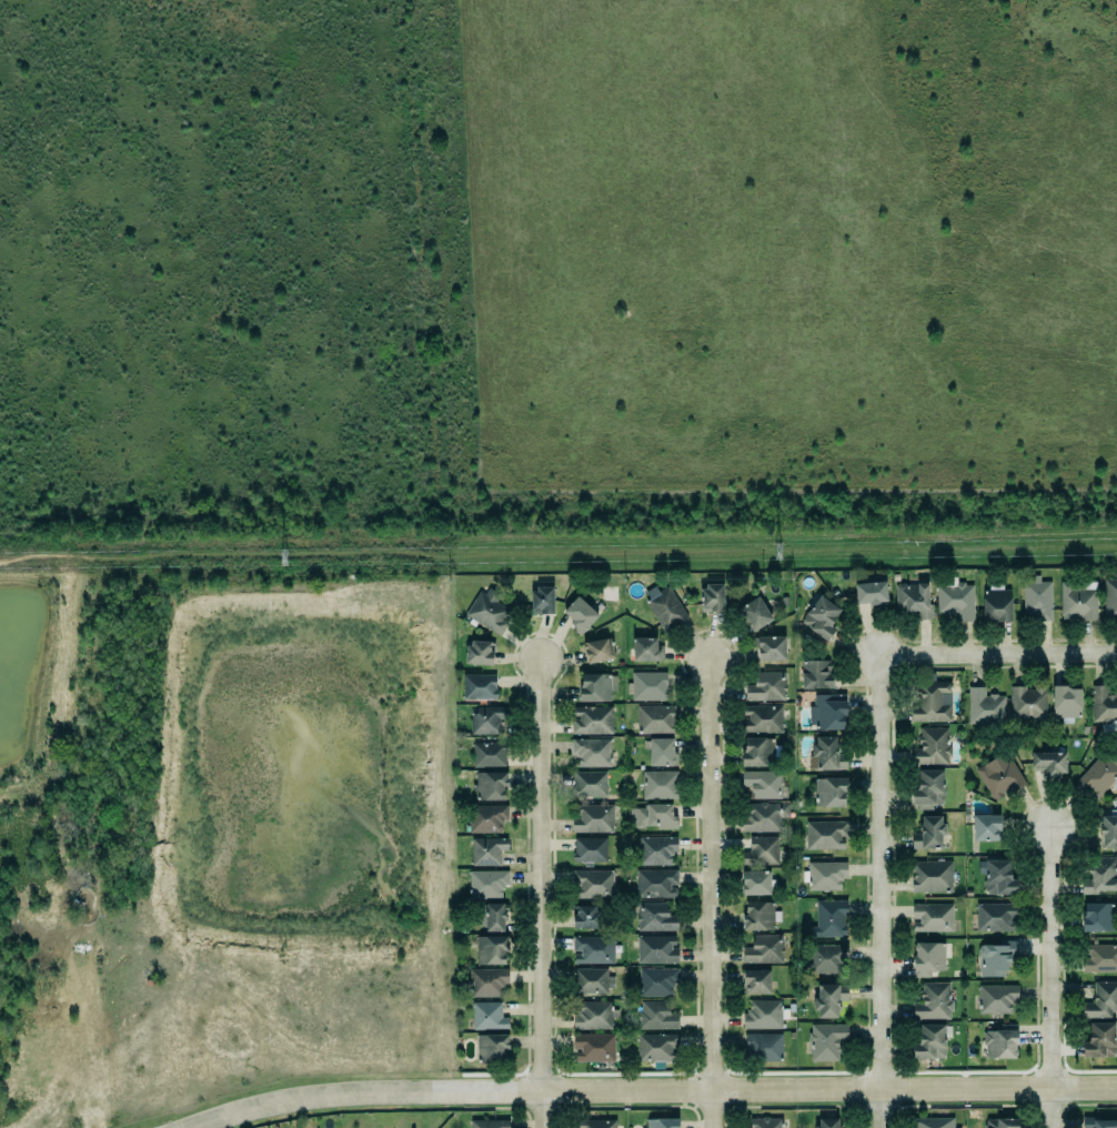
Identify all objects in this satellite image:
power tower: (777, 550)
power tower: (282, 563)
building: (871, 593)
building: (708, 597)
building: (912, 598)
building: (1035, 598)
building: (1110, 600)
building: (542, 601)
building: (956, 601)
building: (1078, 601)
building: (996, 605)
building: (664, 606)
building: (485, 611)
building: (577, 613)
building: (755, 614)
building: (818, 616)
building: (767, 646)
building: (596, 648)
building: (644, 648)
building: (477, 652)
road: (997, 653)
building: (816, 674)
building: (646, 685)
building: (594, 686)
building: (479, 687)
building: (766, 687)
building: (932, 702)
building: (1026, 702)
building: (1066, 702)
building: (1104, 705)
building: (983, 706)
building: (826, 712)
building: (759, 718)
building: (487, 719)
building: (655, 719)
building: (592, 721)
building: (932, 746)
building: (658, 751)
building: (755, 751)
building: (592, 752)
building: (486, 754)
building: (823, 754)
building: (1049, 764)
building: (1096, 775)
building: (999, 776)
building: (761, 783)
building: (590, 784)
building: (489, 785)
building: (660, 785)
building: (827, 790)
building: (928, 790)
building: (651, 816)
building: (764, 816)
building: (484, 817)
building: (591, 817)
building: (984, 826)
building: (1107, 832)
building: (823, 834)
building: (928, 834)
building: (485, 849)
building: (587, 849)
building: (656, 850)
building: (759, 850)
building: (929, 875)
building: (826, 876)
building: (1099, 876)
building: (997, 877)
building: (591, 883)
building: (653, 883)
building: (754, 883)
building: (487, 884)
road: (879, 890)
road: (711, 893)
road: (541, 894)
building: (758, 914)
building: (490, 915)
building: (585, 916)
building: (994, 916)
building: (1095, 916)
building: (654, 917)
building: (930, 917)
building: (827, 918)
building: (762, 948)
building: (491, 949)
building: (591, 949)
building: (656, 949)
building: (1098, 957)
building: (827, 958)
building: (926, 958)
building: (995, 959)
road: (1049, 977)
building: (753, 980)
building: (592, 981)
building: (657, 981)
building: (487, 983)
building: (997, 998)
building: (1100, 998)
building: (827, 999)
building: (933, 1001)
building: (591, 1015)
building: (763, 1015)
building: (656, 1016)
building: (490, 1031)
building: (824, 1039)
building: (1100, 1040)
building: (930, 1043)
building: (1000, 1045)
building: (655, 1046)
building: (765, 1047)
building: (593, 1048)
road: (663, 1089)
building: (660, 1122)
building: (765, 1122)
building: (828, 1122)
building: (934, 1122)
building: (486, 1124)
building: (596, 1124)
building: (1002, 1124)
building: (1099, 1124)

